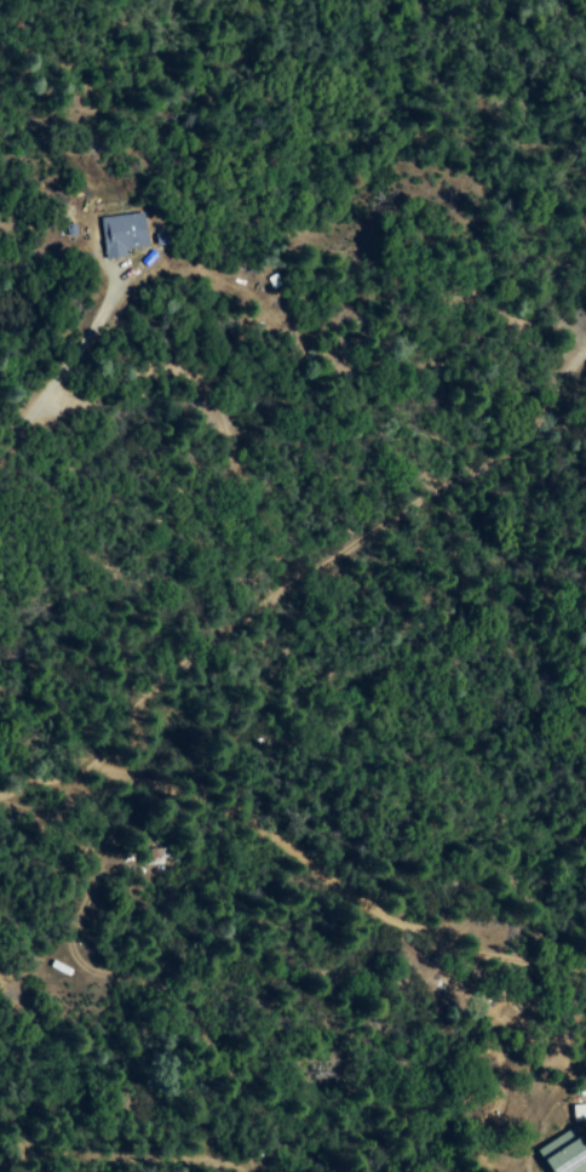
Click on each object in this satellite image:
building: (108, 238)
road: (56, 371)
road: (331, 560)
road: (294, 857)
building: (576, 1114)
road: (117, 1159)
road: (242, 1168)

